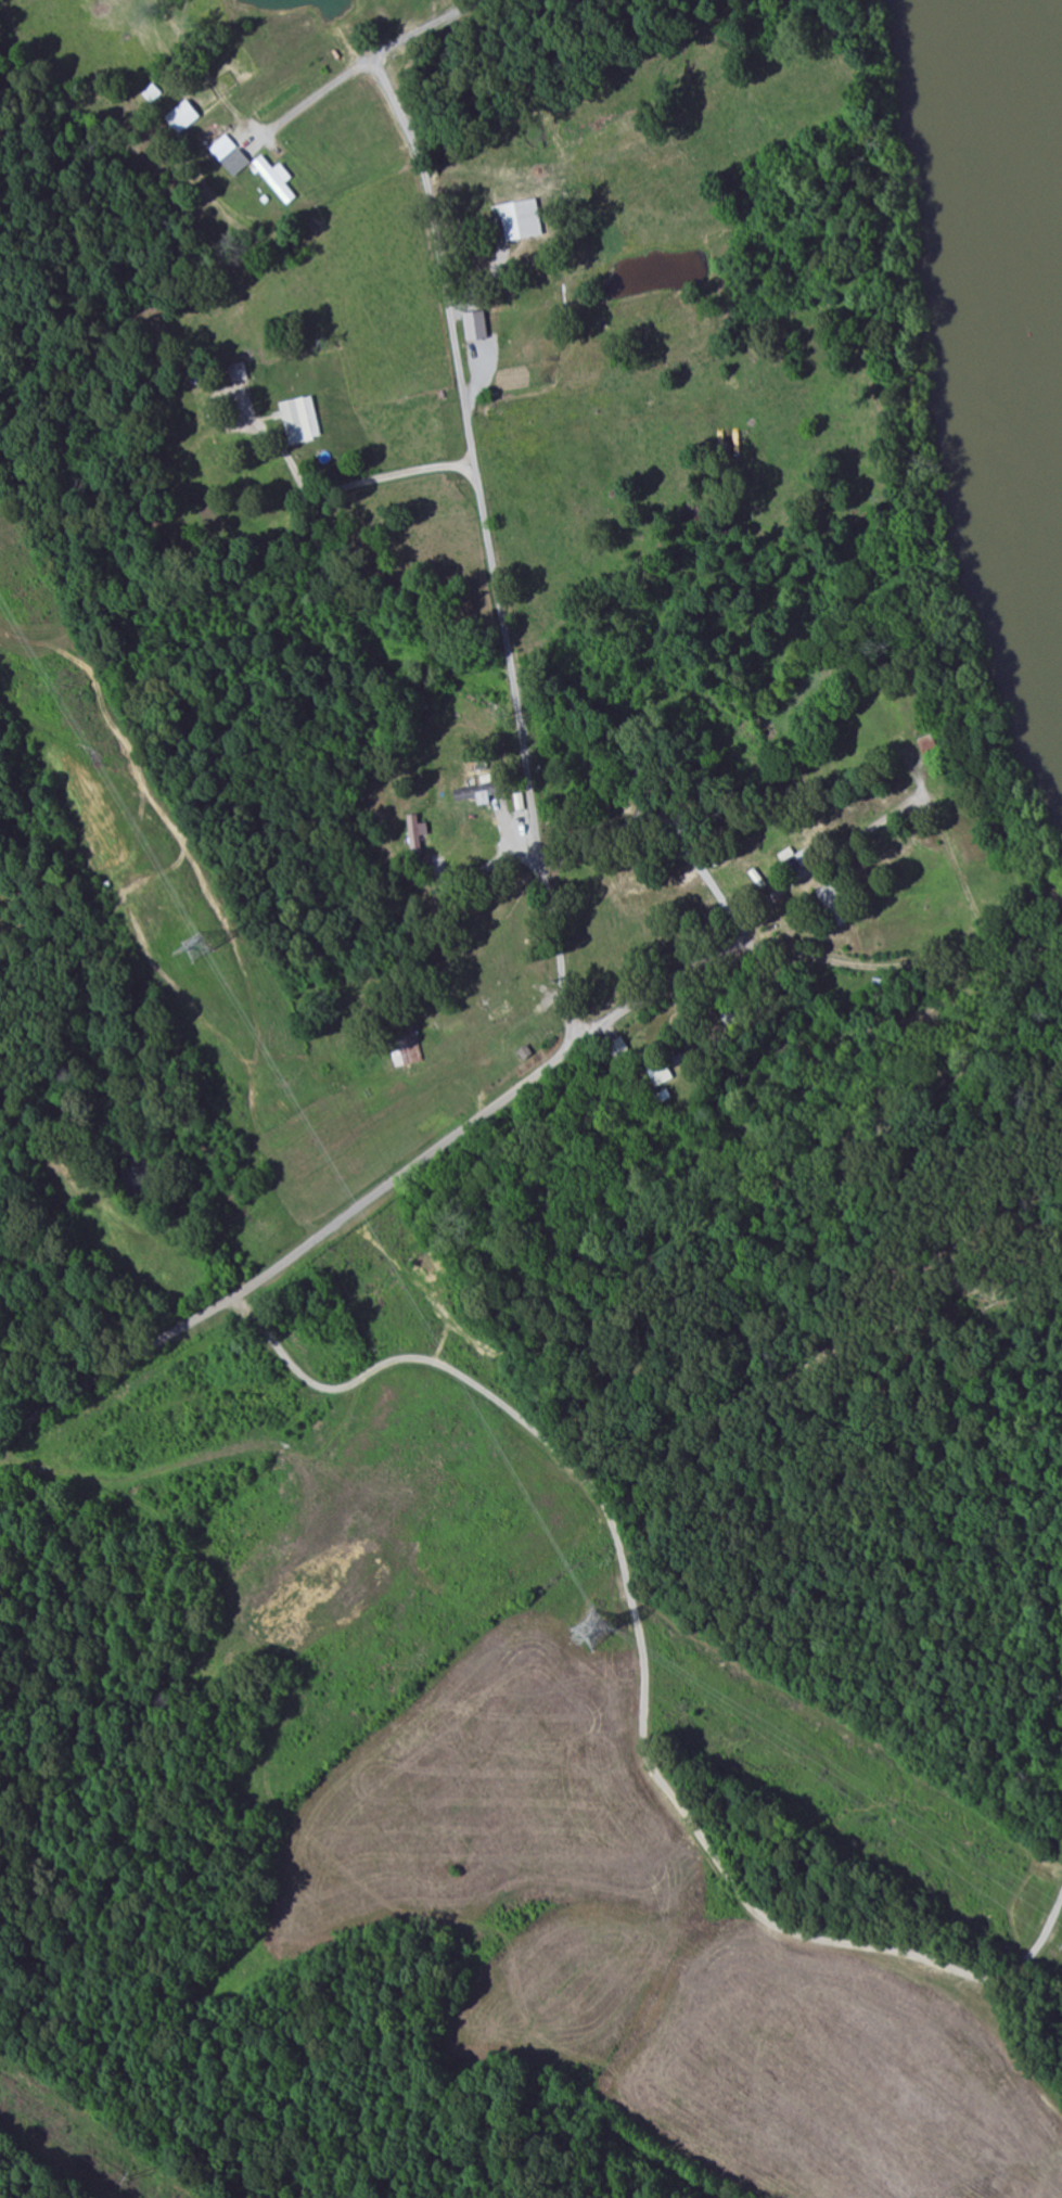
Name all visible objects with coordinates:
road: (363, 68)
building: (185, 117)
building: (231, 155)
building: (278, 179)
river: (1019, 204)
building: (509, 222)
building: (476, 325)
building: (242, 382)
building: (302, 420)
road: (492, 549)
building: (474, 795)
building: (418, 828)
road: (494, 868)
road: (716, 887)
power tower: (196, 949)
building: (664, 1071)
road: (367, 1202)
power tower: (591, 1631)

